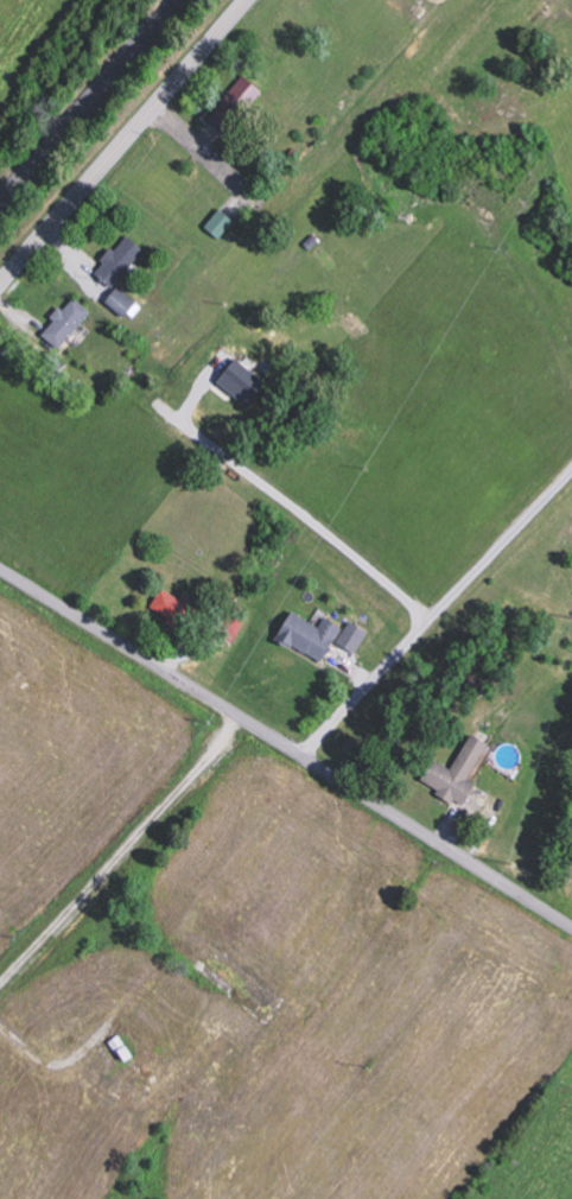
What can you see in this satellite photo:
railway: (89, 102)
building: (235, 107)
road: (123, 142)
building: (222, 224)
building: (119, 264)
building: (125, 303)
building: (69, 323)
building: (243, 381)
building: (173, 605)
building: (313, 635)
building: (356, 636)
road: (287, 742)
building: (462, 770)
road: (221, 924)

